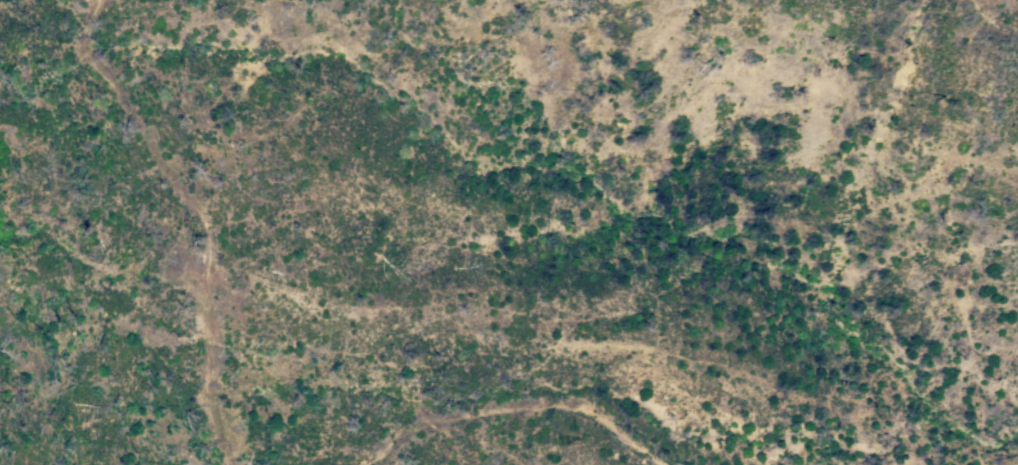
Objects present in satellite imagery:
road: (200, 212)
road: (509, 409)

